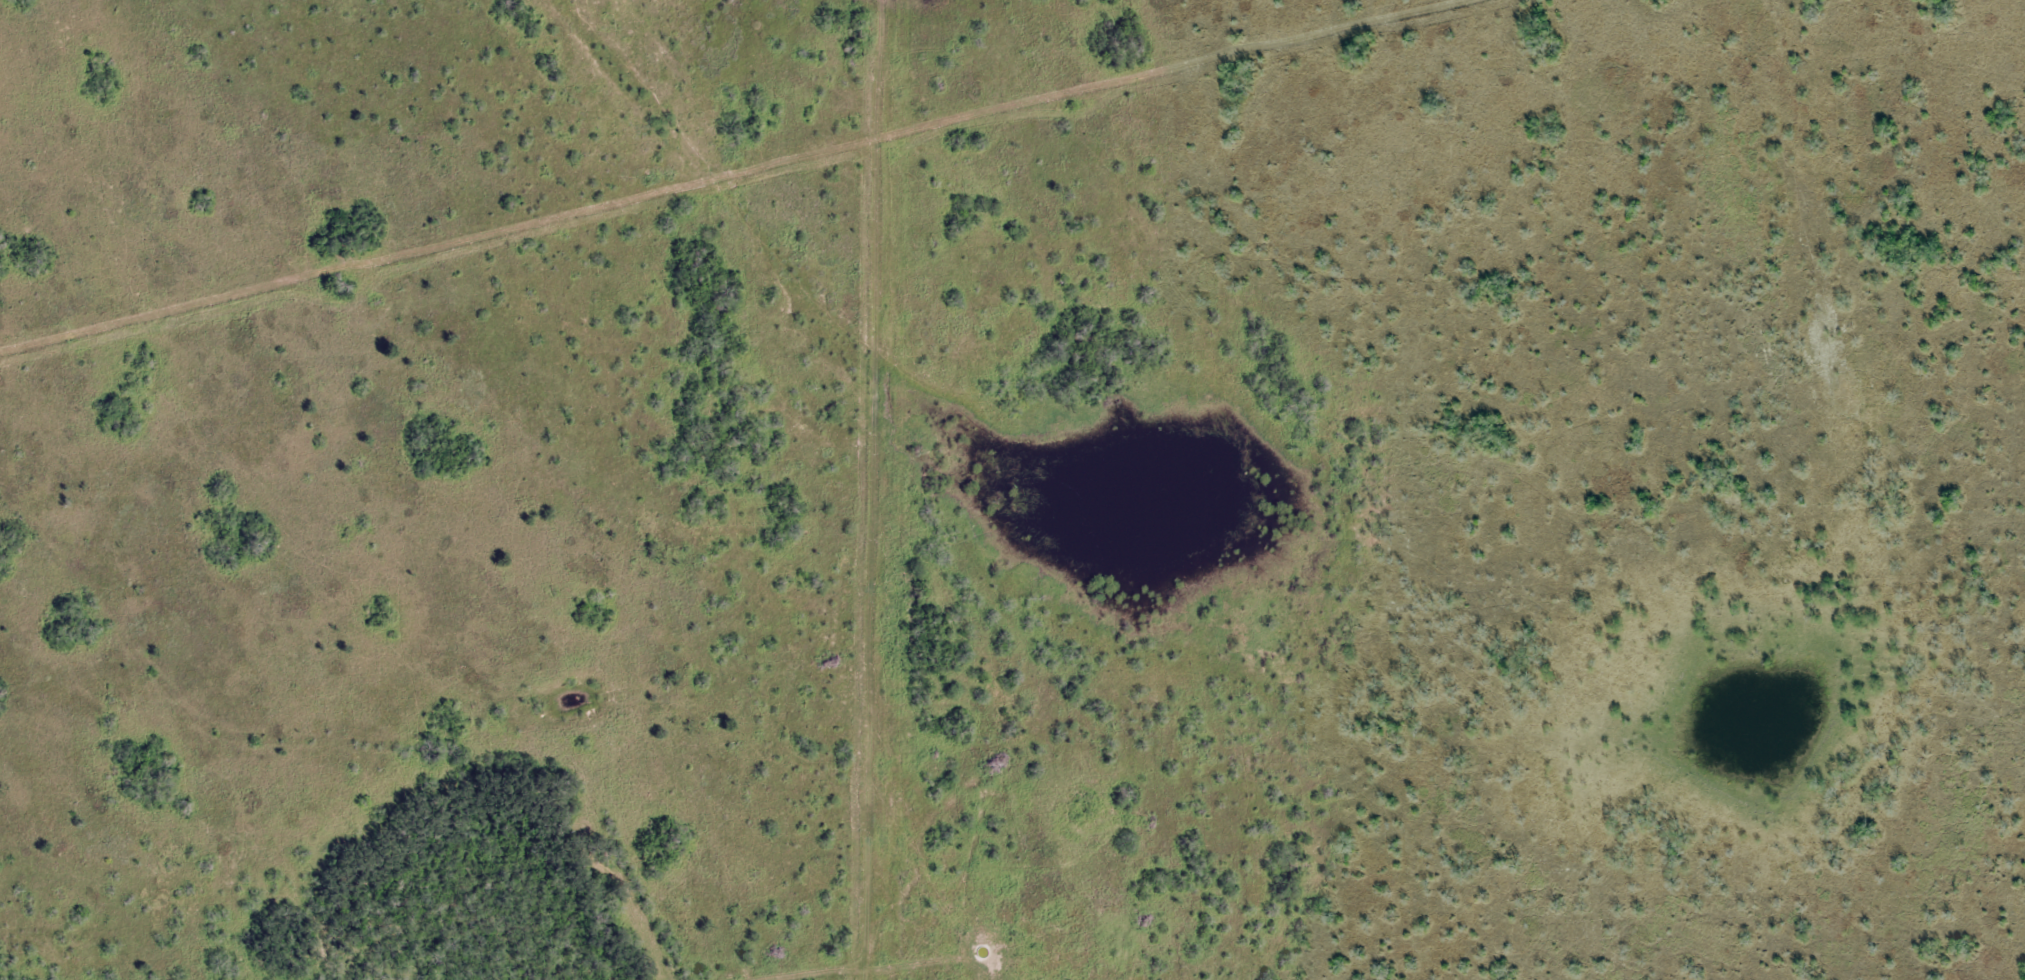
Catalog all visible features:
road: (848, 477)
road: (346, 771)

